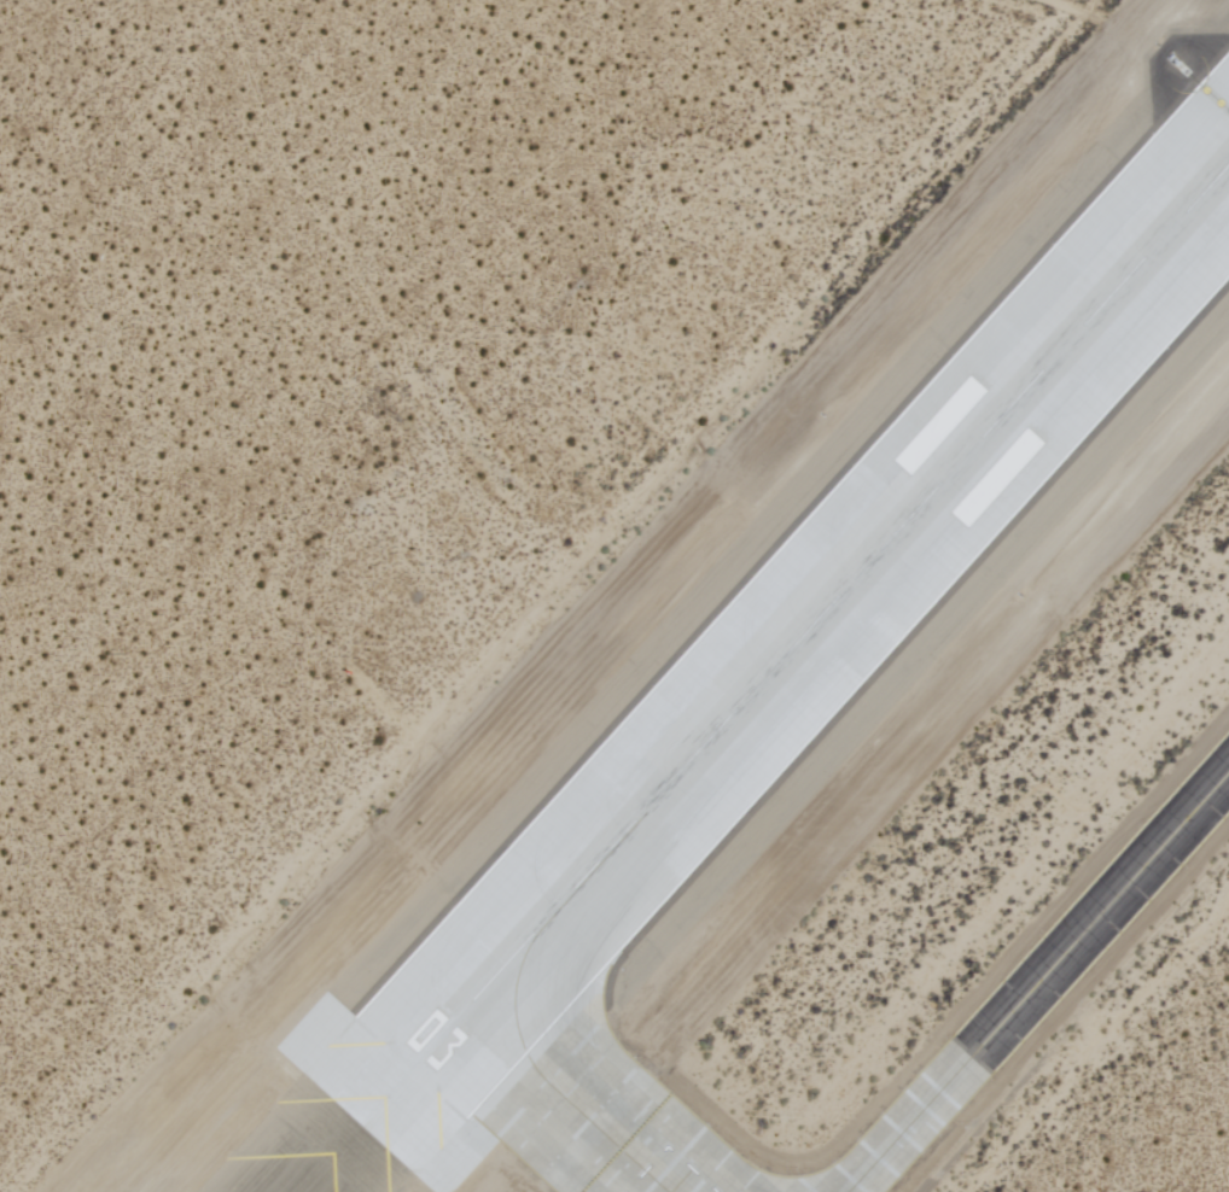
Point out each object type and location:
airport runway: (845, 585)
airport: (614, 596)
airport taxiway: (1037, 981)
airport taxiway: (561, 1100)

